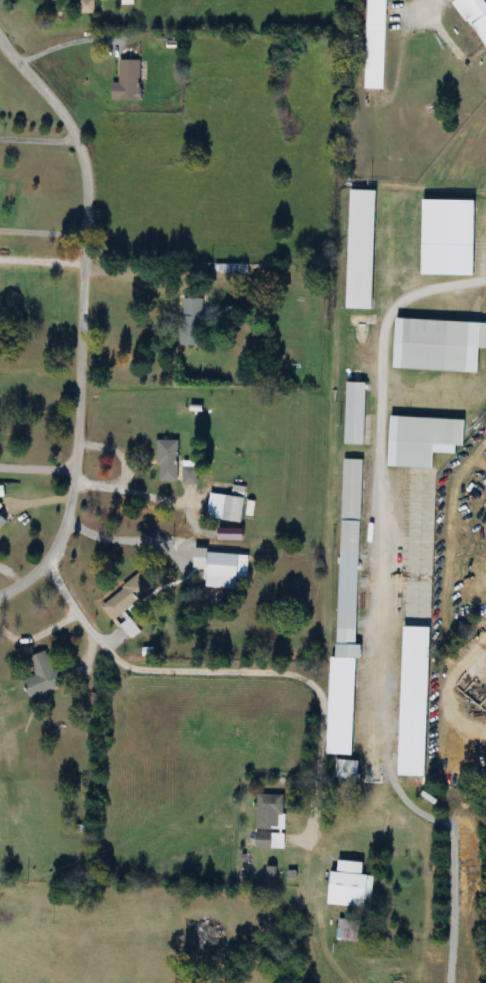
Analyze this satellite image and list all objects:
building: (474, 16)
building: (375, 45)
building: (127, 82)
road: (37, 135)
road: (42, 229)
building: (360, 250)
road: (43, 258)
building: (231, 269)
road: (85, 287)
building: (191, 322)
building: (481, 337)
building: (434, 346)
road: (381, 363)
building: (354, 414)
building: (424, 440)
building: (168, 462)
road: (36, 469)
building: (233, 510)
building: (0, 533)
building: (349, 561)
road: (27, 580)
building: (127, 597)
road: (238, 672)
building: (40, 676)
building: (346, 770)
building: (270, 822)
building: (349, 885)
building: (348, 930)

